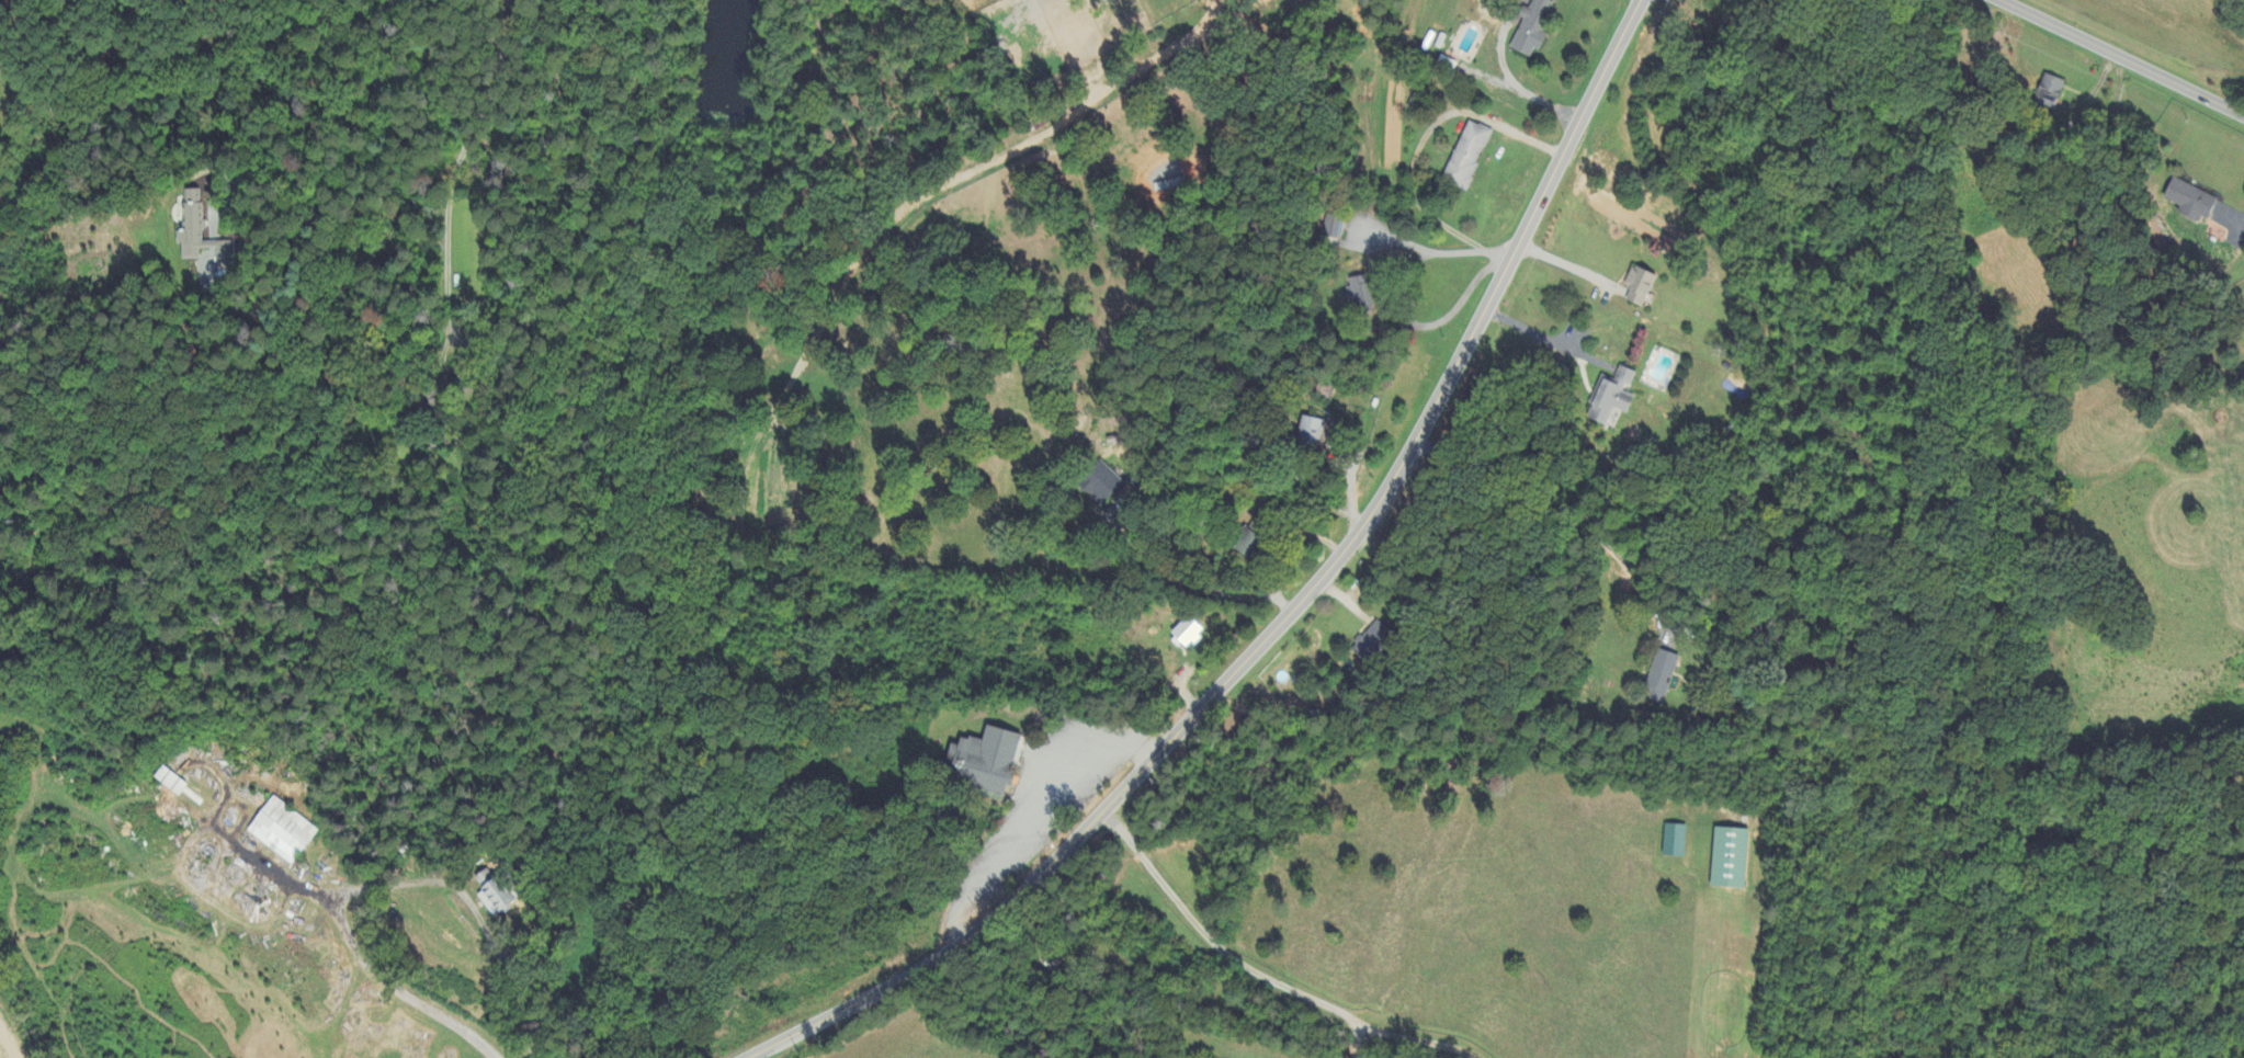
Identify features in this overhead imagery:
building: (1303, 1)
building: (1532, 27)
road: (2121, 58)
road: (1510, 79)
building: (2050, 89)
road: (1529, 140)
road: (360, 151)
building: (1466, 156)
road: (457, 167)
building: (1161, 187)
building: (2190, 201)
road: (2236, 225)
building: (1331, 228)
building: (200, 232)
road: (1569, 265)
building: (1639, 286)
building: (1359, 293)
road: (1458, 306)
road: (1543, 339)
road: (1448, 383)
building: (1611, 398)
building: (1311, 430)
building: (1100, 485)
road: (1561, 515)
building: (1248, 545)
road: (1192, 584)
building: (1186, 634)
building: (1373, 642)
building: (1659, 678)
building: (984, 762)
building: (169, 780)
road: (1027, 801)
road: (1062, 807)
building: (281, 830)
building: (1674, 842)
building: (1730, 857)
building: (226, 878)
building: (495, 891)
road: (474, 909)
road: (995, 917)
road: (351, 943)
road: (1262, 975)

